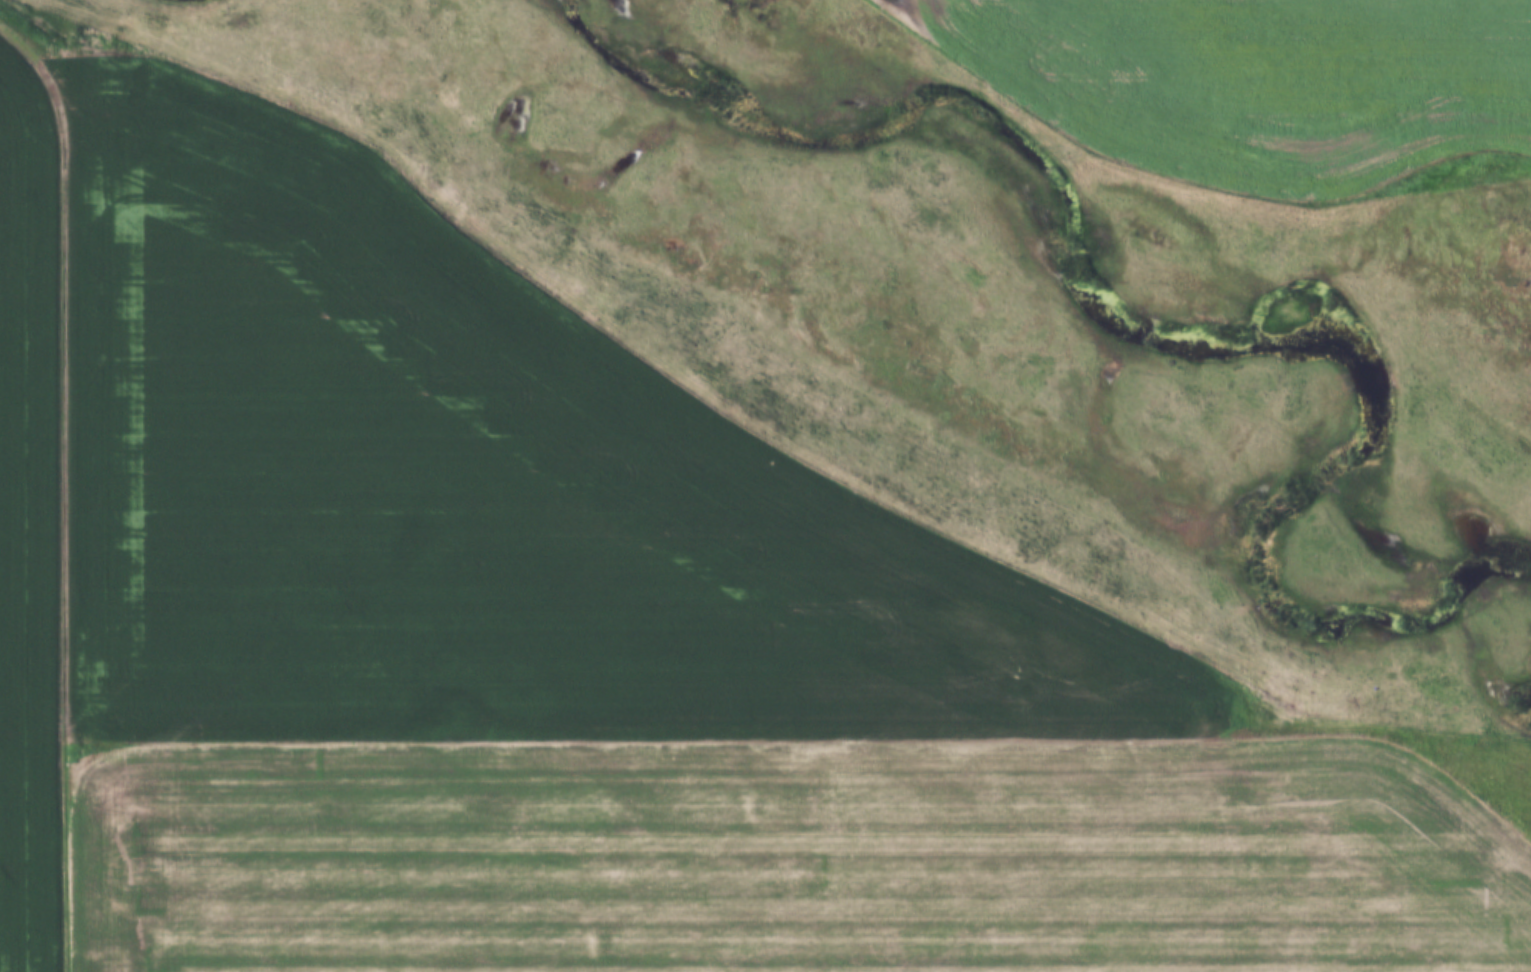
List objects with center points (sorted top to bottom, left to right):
road: (68, 472)

